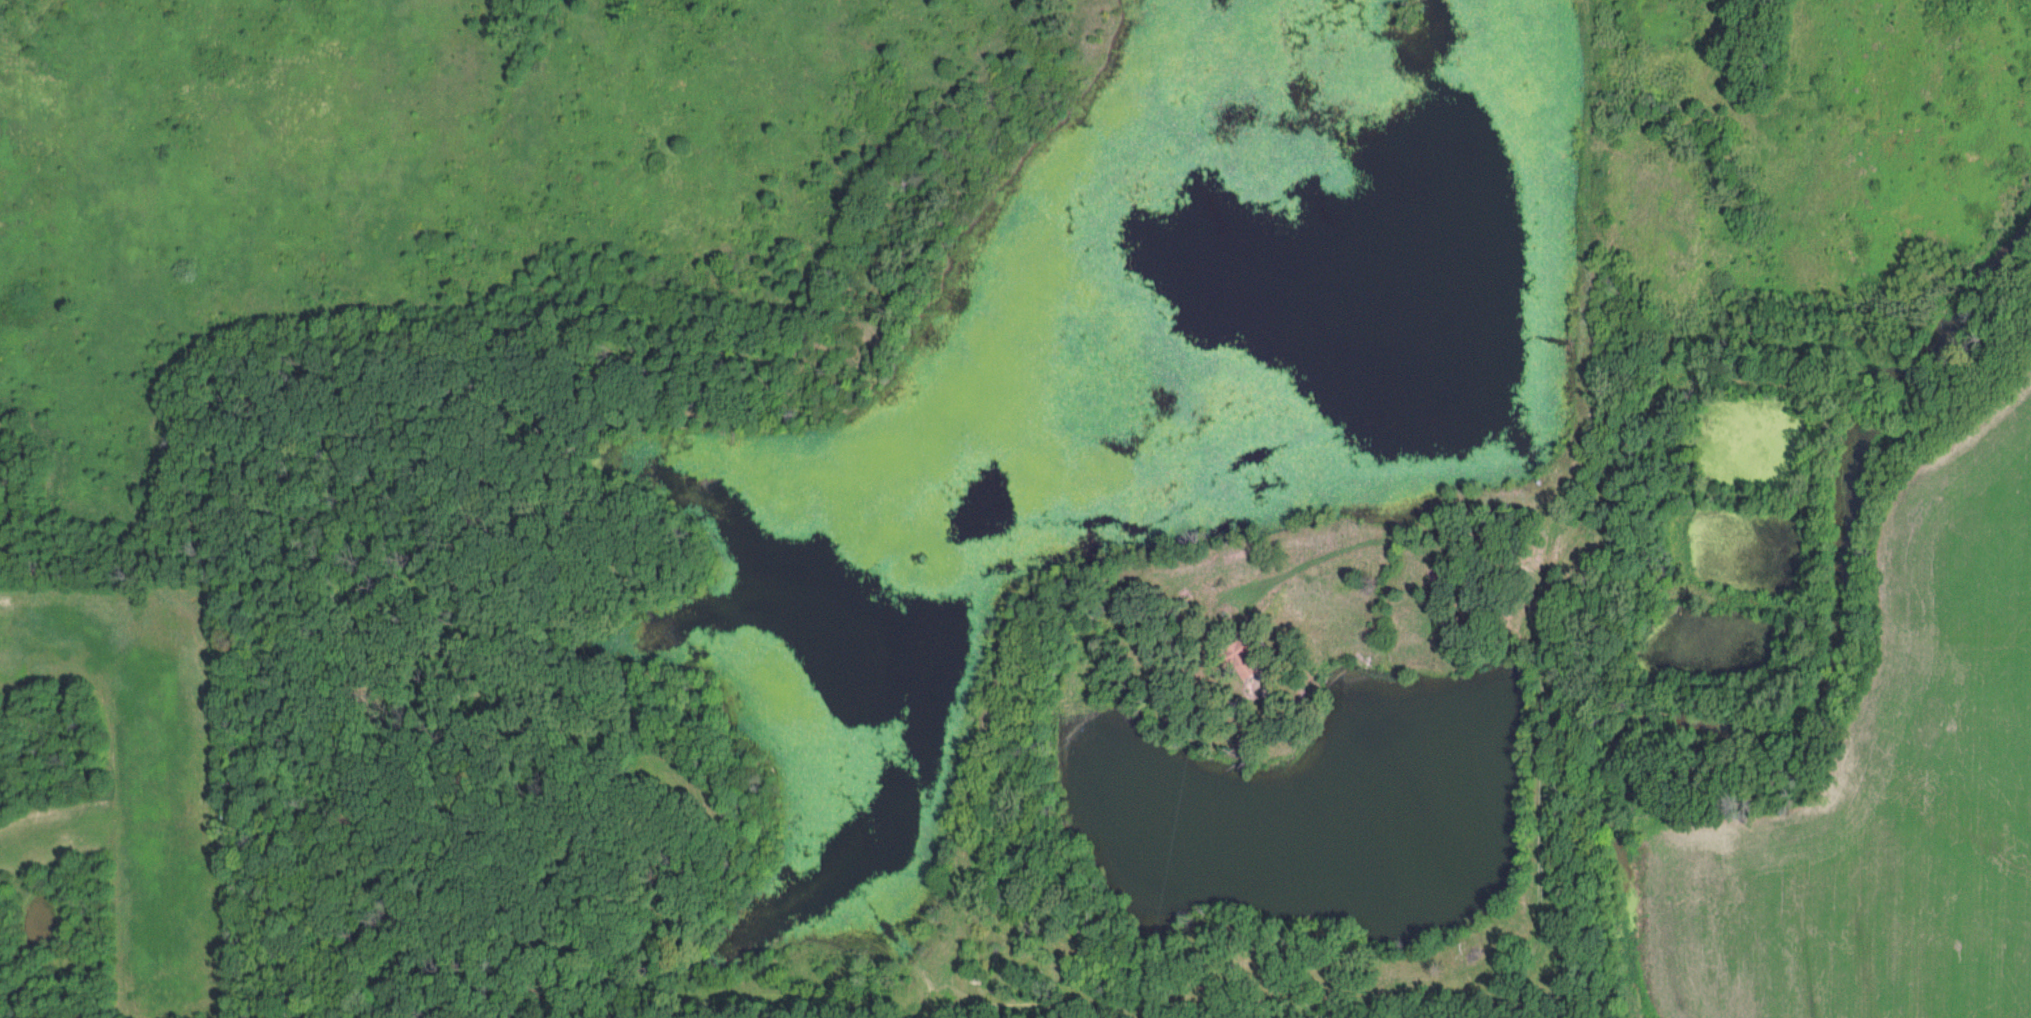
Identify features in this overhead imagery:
road: (1880, 881)

